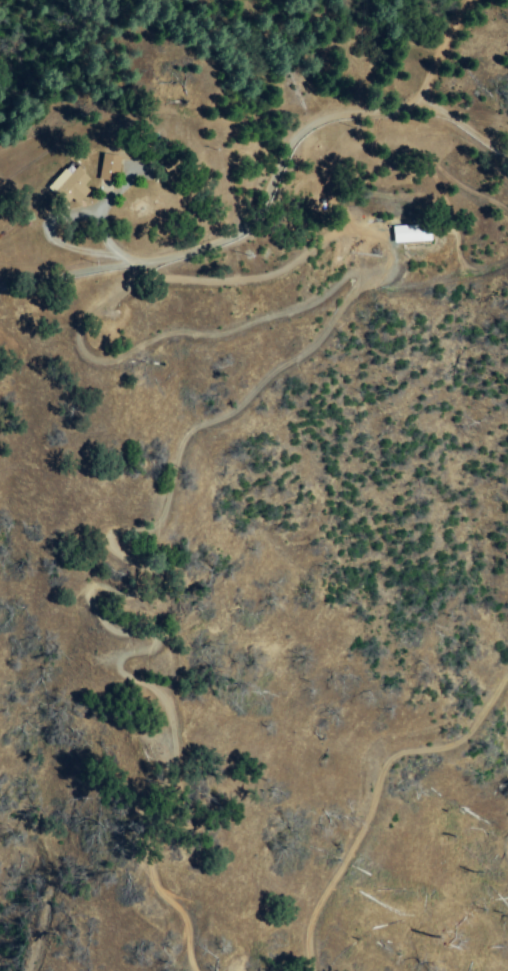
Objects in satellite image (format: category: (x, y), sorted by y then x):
road: (456, 52)
road: (465, 131)
building: (96, 170)
building: (58, 188)
road: (93, 227)
road: (240, 229)
building: (406, 235)
road: (44, 240)

